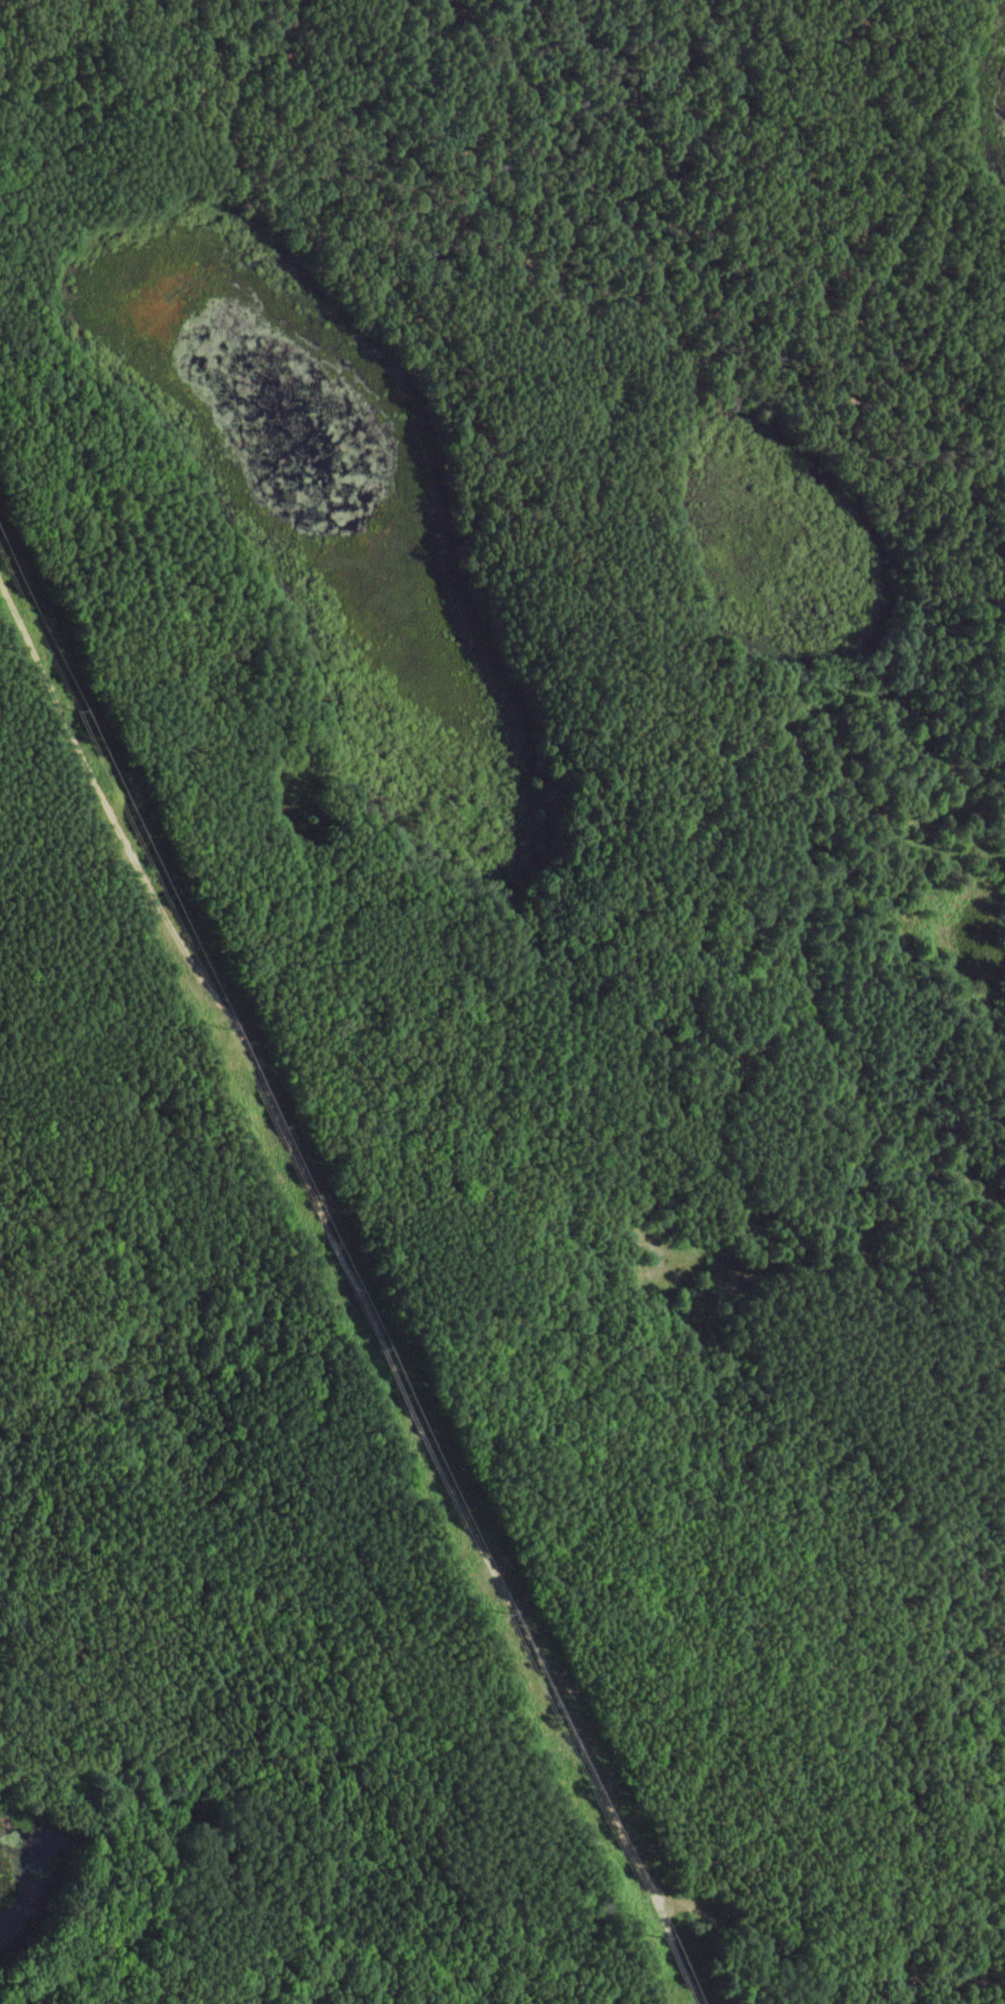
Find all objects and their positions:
road: (658, 294)
road: (329, 1220)
road: (678, 1953)
road: (822, 1978)

